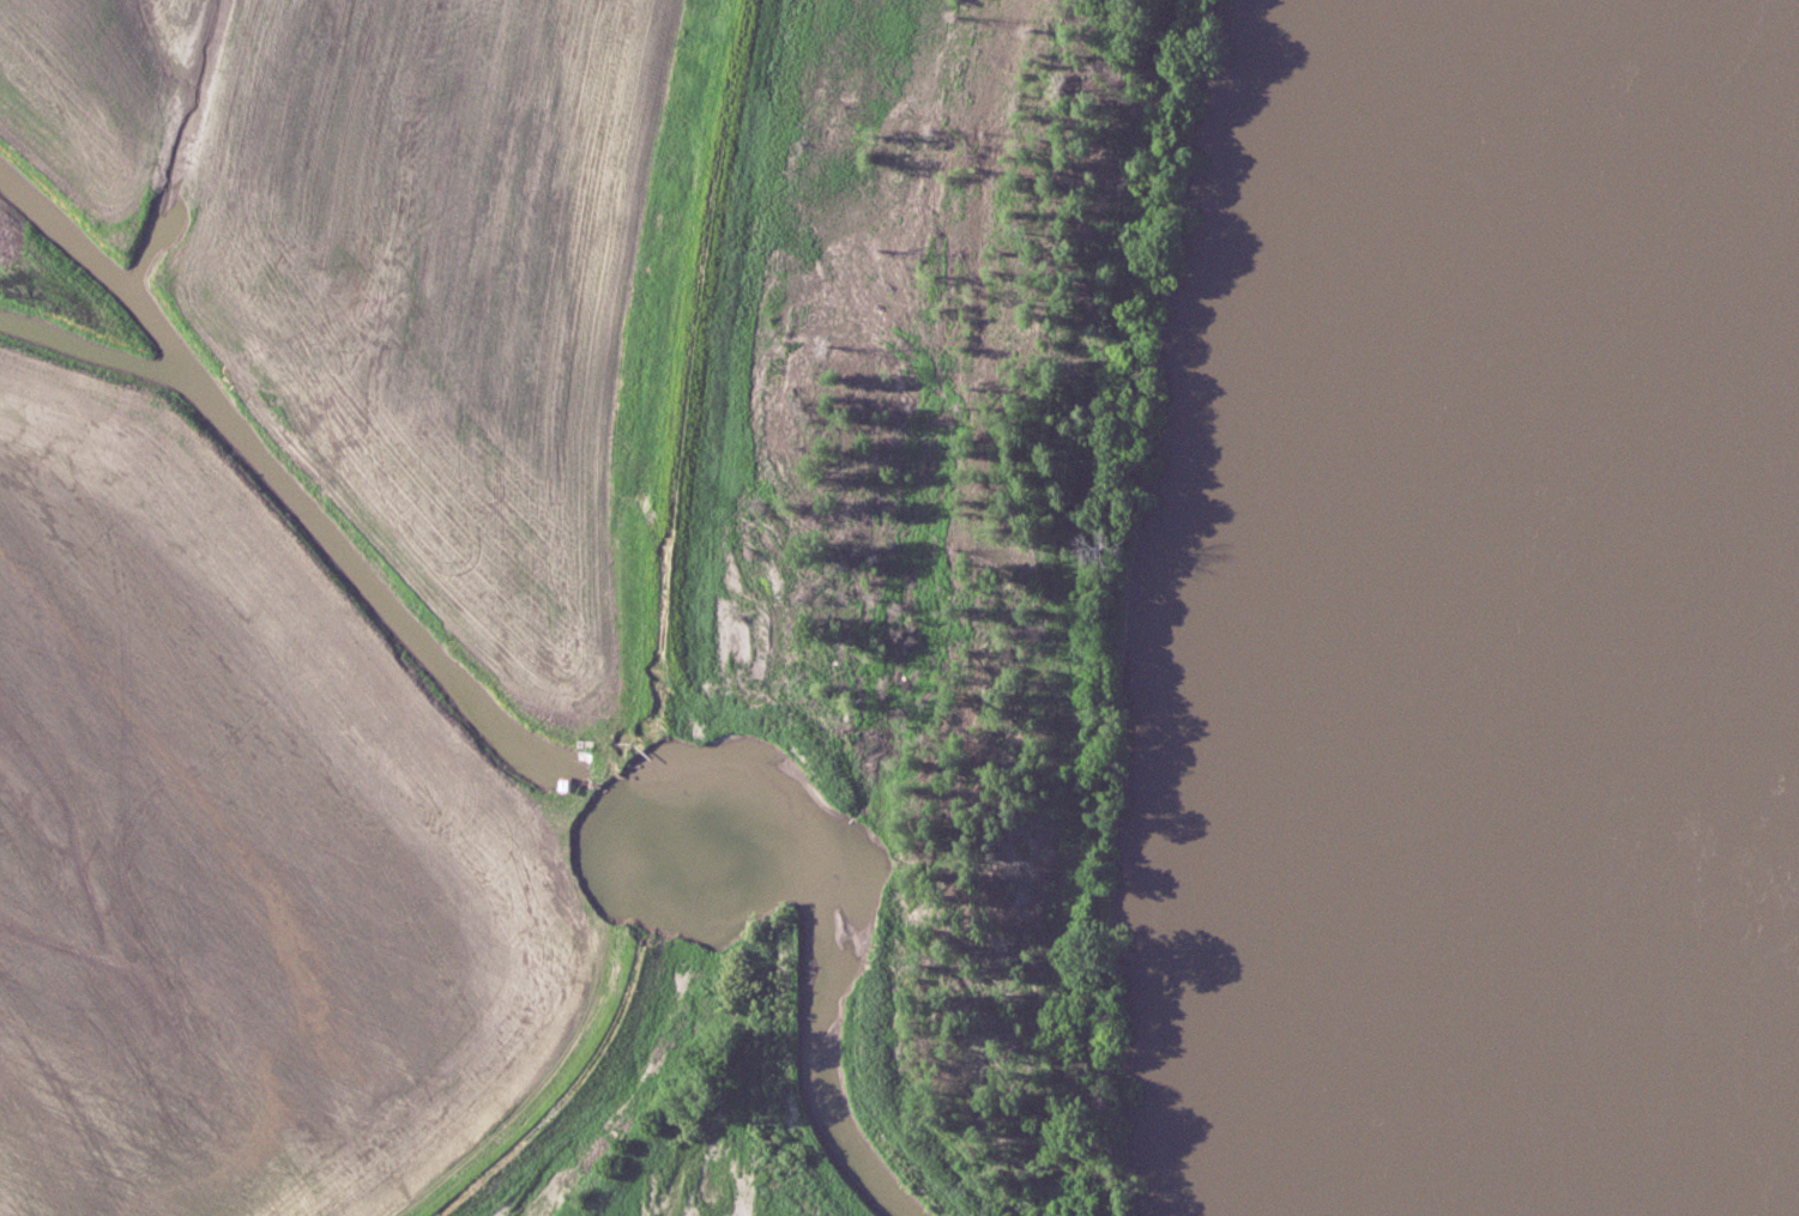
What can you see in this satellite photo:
river: (1560, 609)
road: (749, 666)

